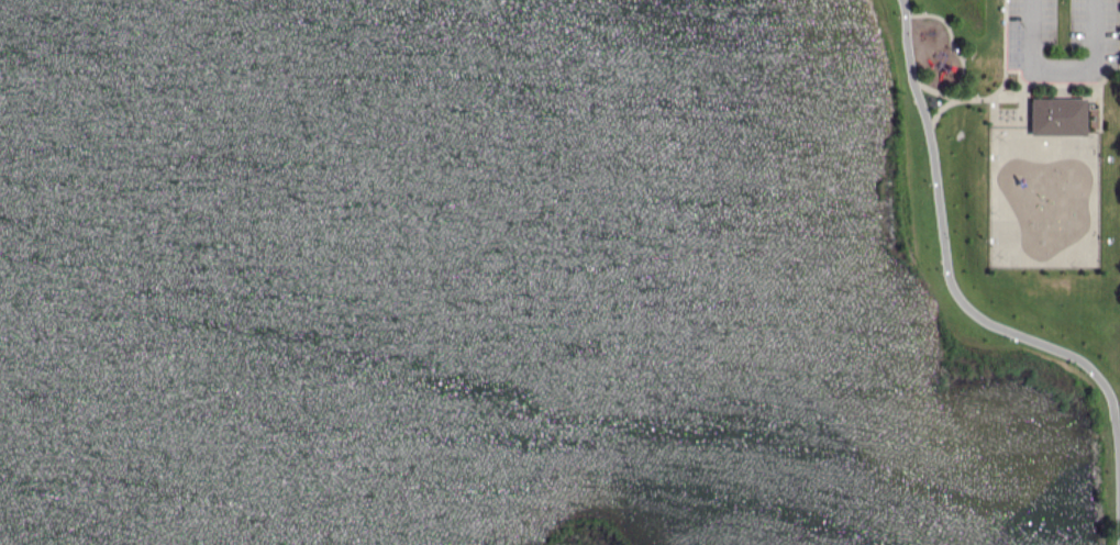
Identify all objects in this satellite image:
road: (1061, 68)
building: (1055, 116)
park: (1017, 189)
road: (969, 310)

